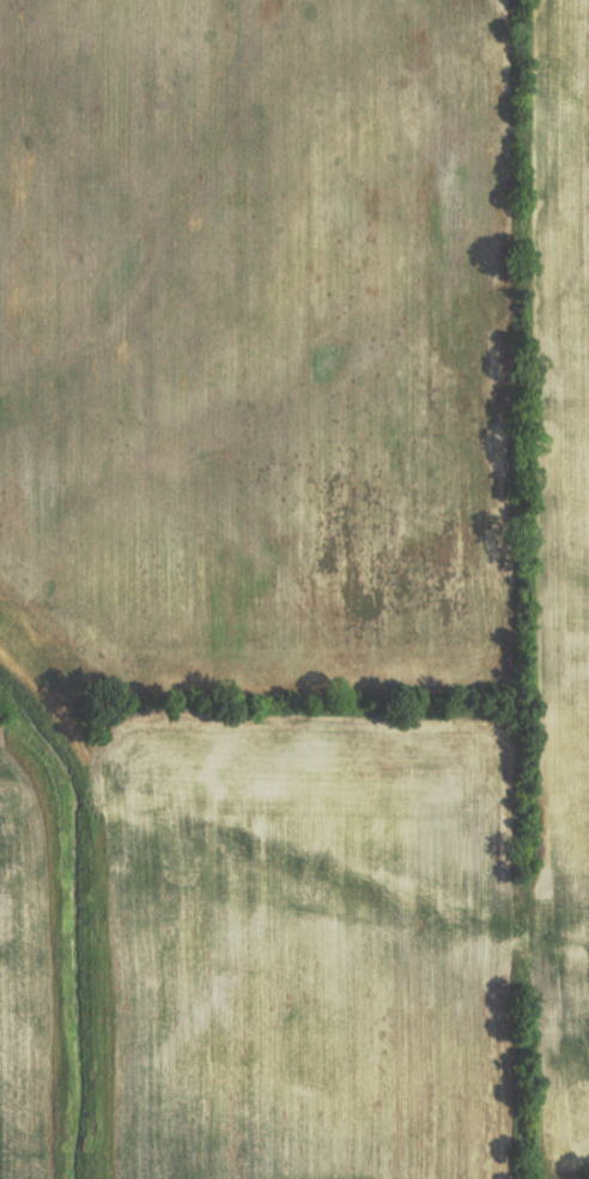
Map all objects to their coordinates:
crop: (566, 598)

